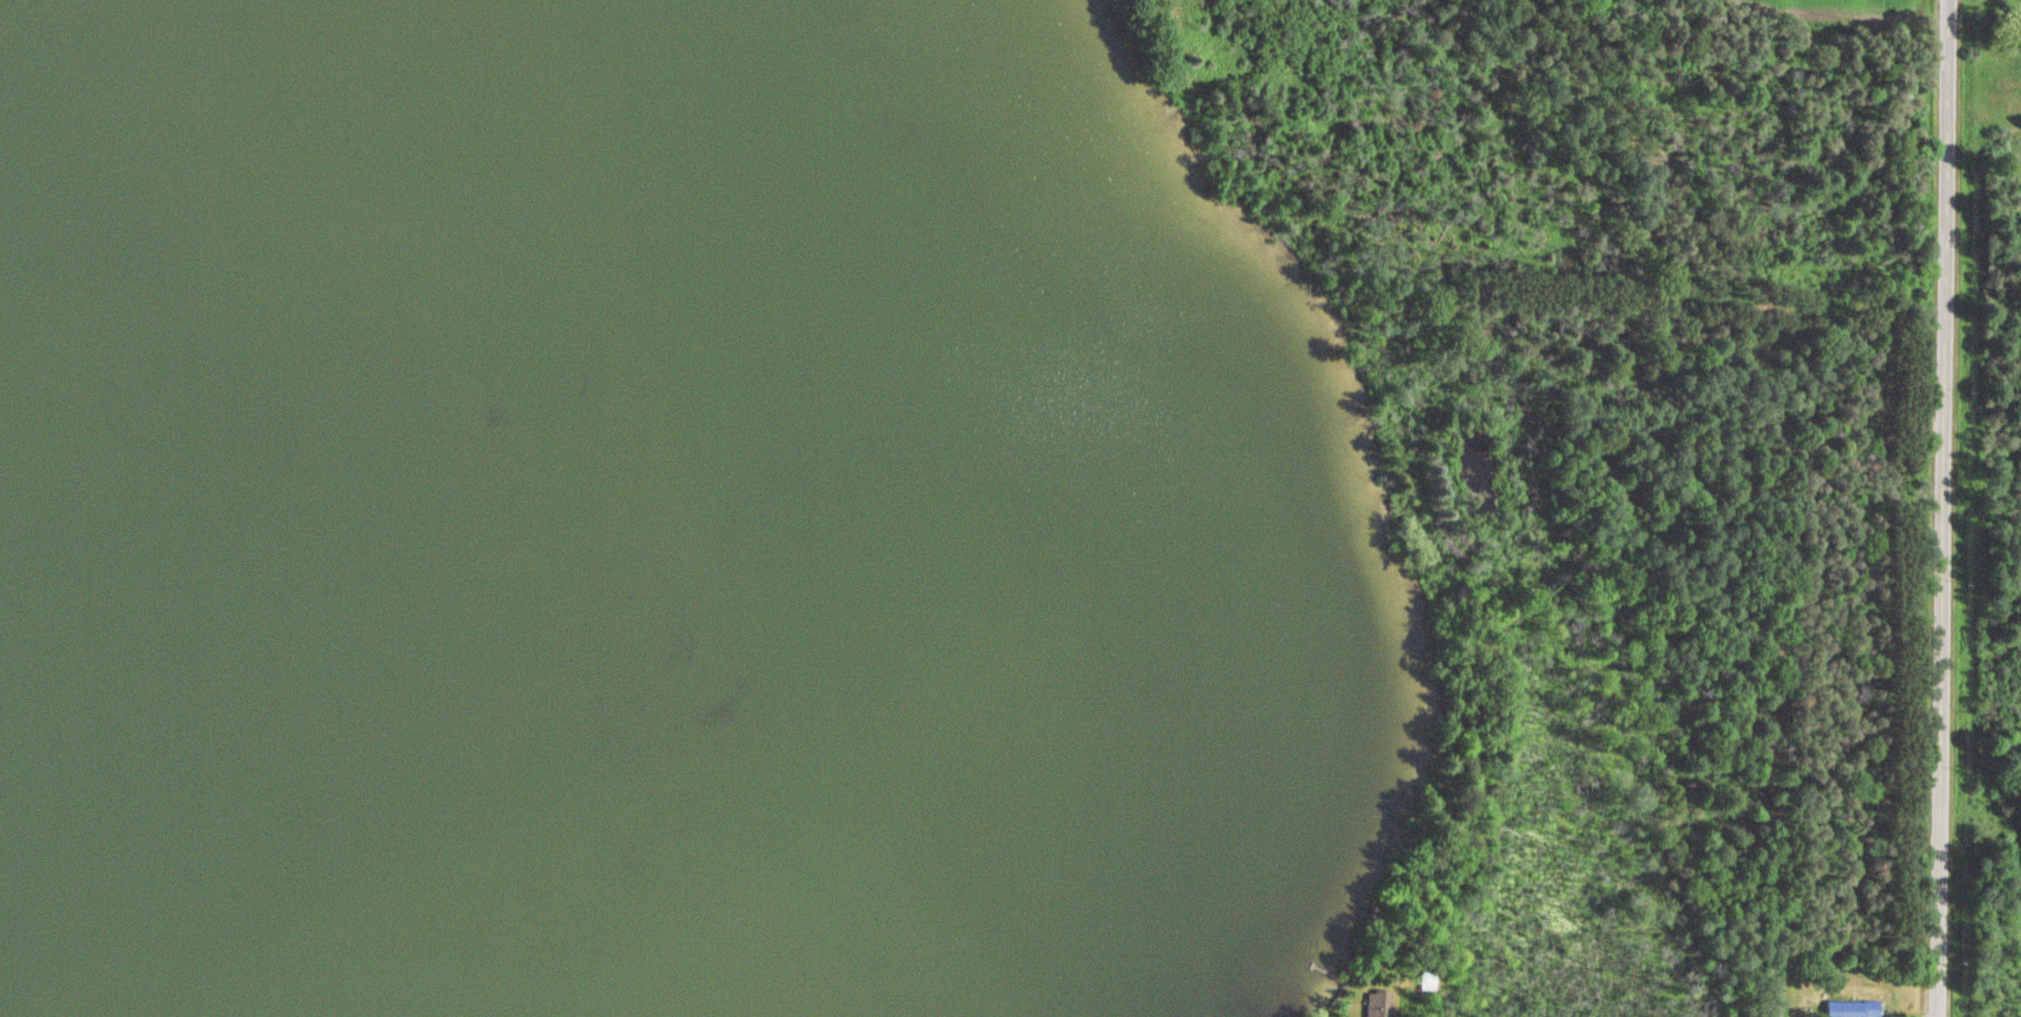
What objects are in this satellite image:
road: (1942, 508)
building: (1849, 1009)

